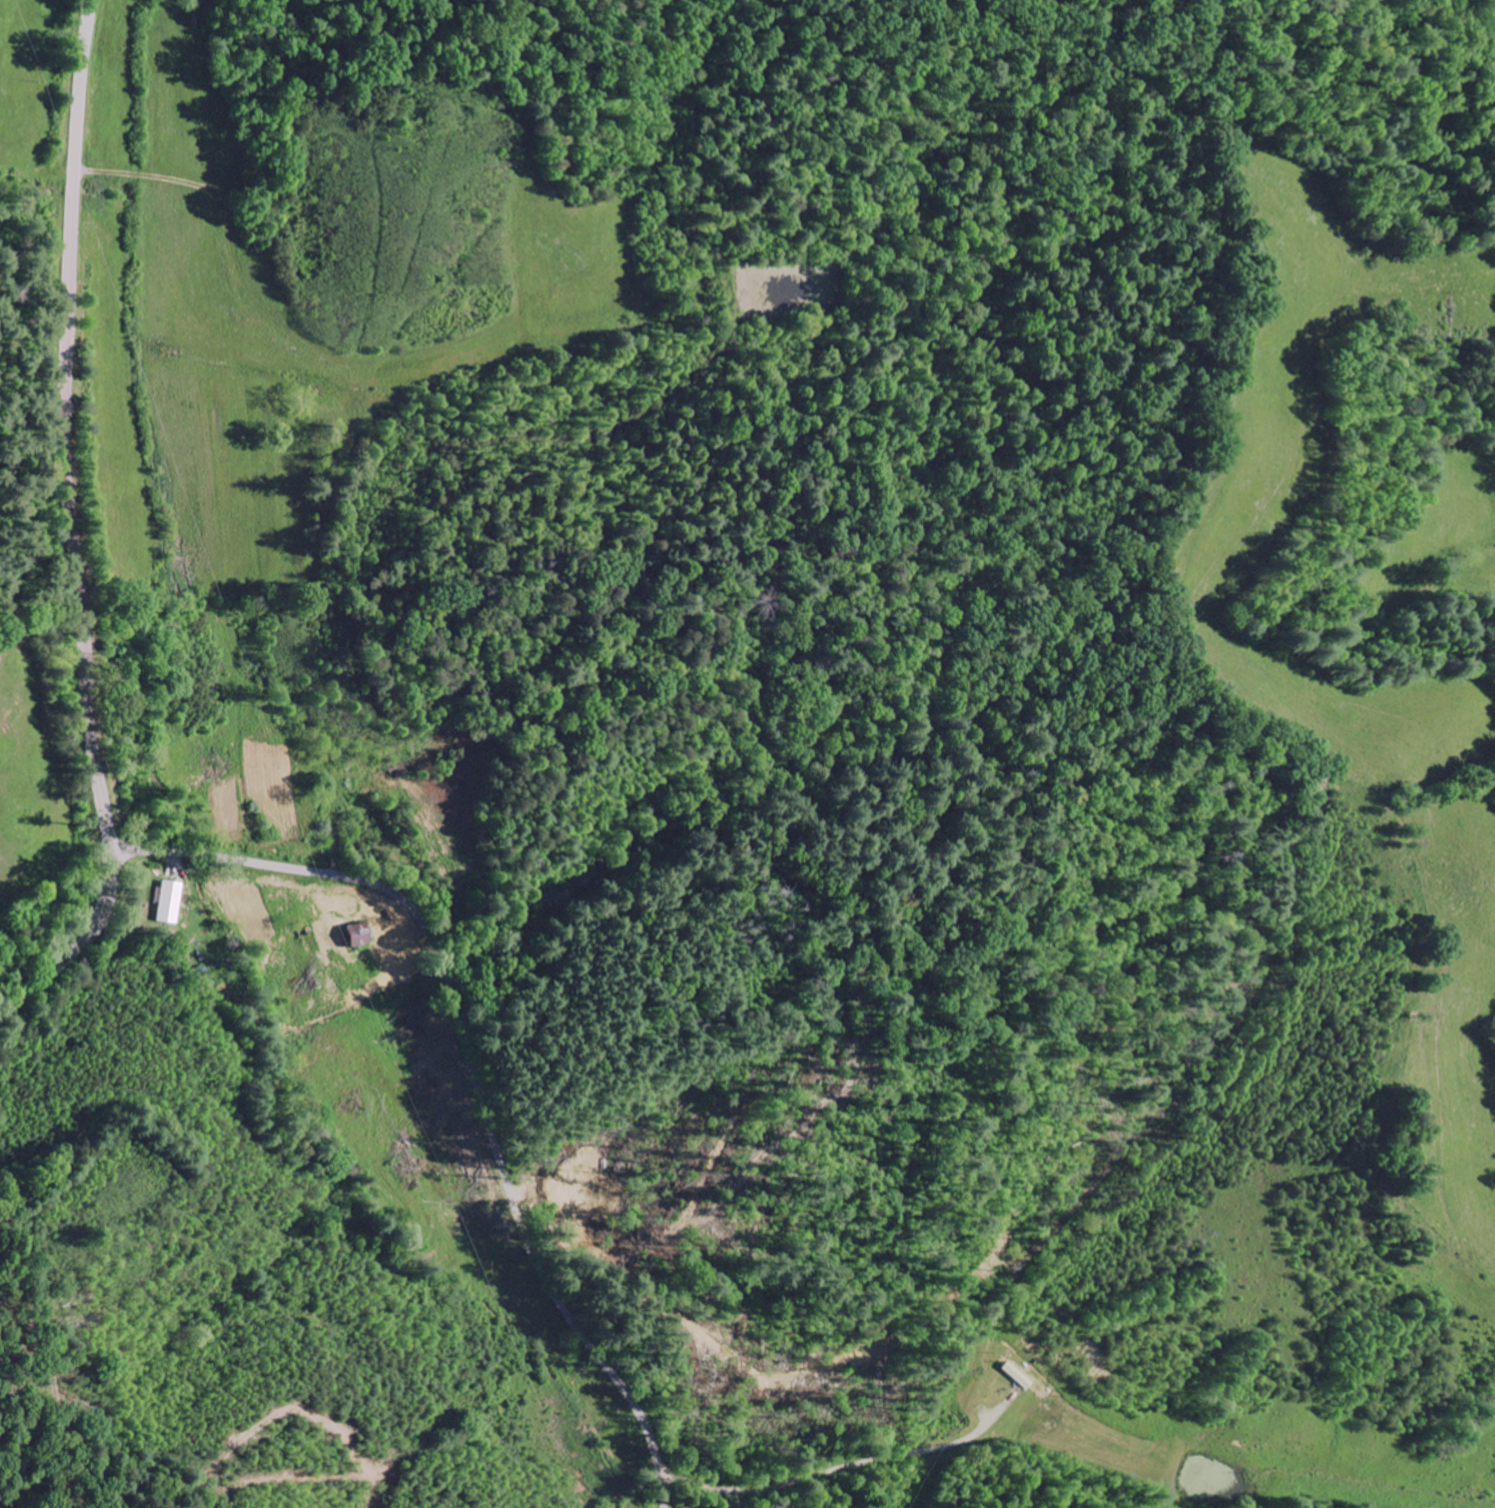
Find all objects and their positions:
road: (70, 529)
building: (169, 903)
building: (354, 939)
road: (471, 1070)
building: (1013, 1377)

